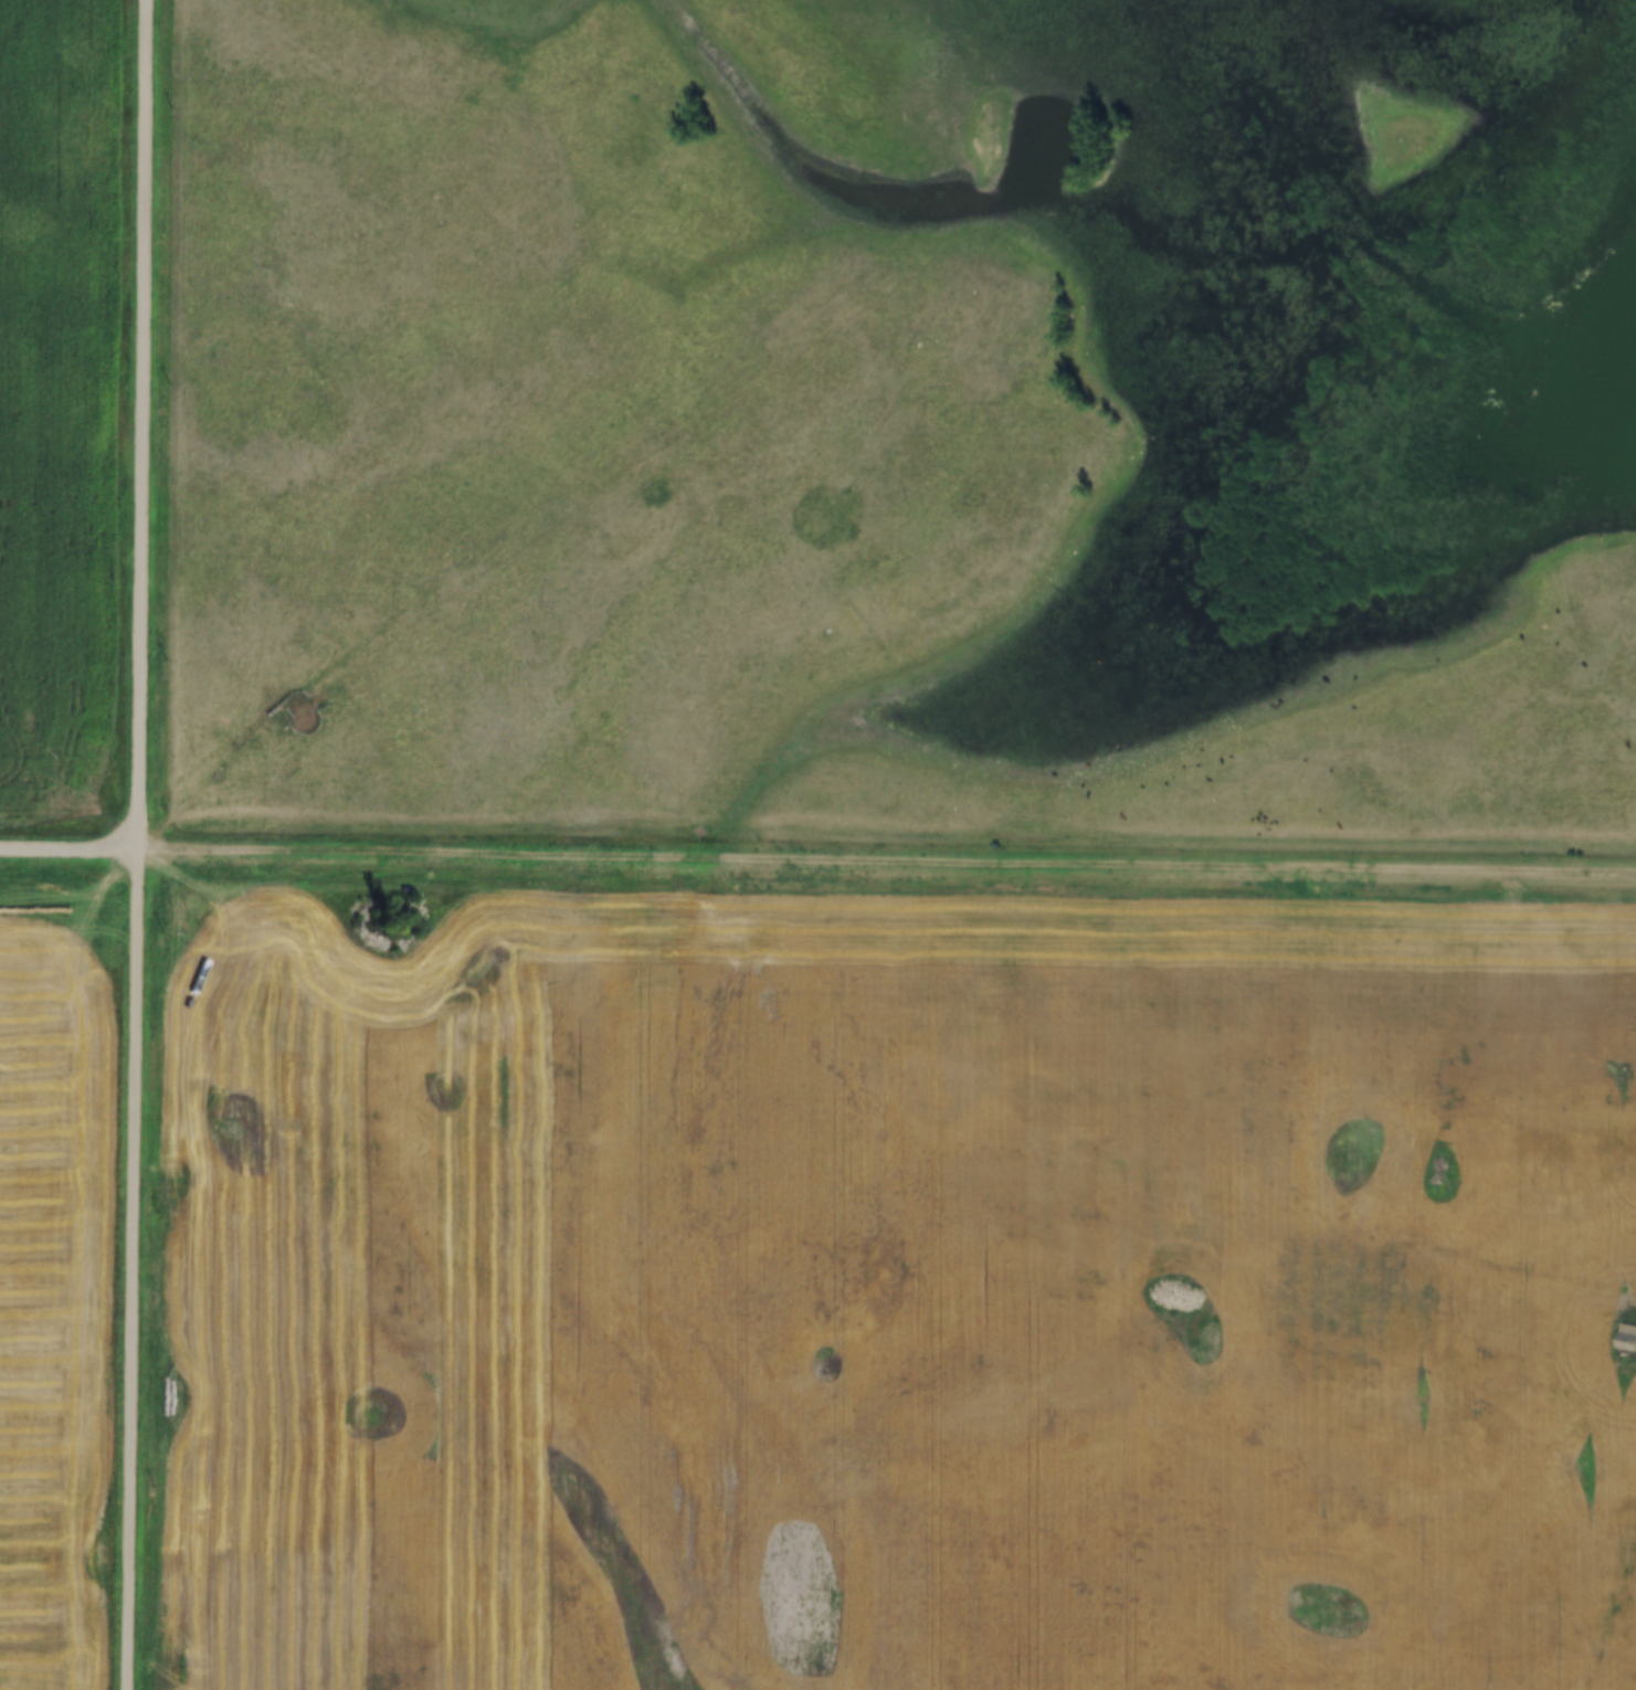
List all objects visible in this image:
road: (144, 425)
road: (883, 770)
road: (70, 852)
road: (888, 859)
road: (134, 1270)
building: (1627, 1339)
road: (1609, 1624)

